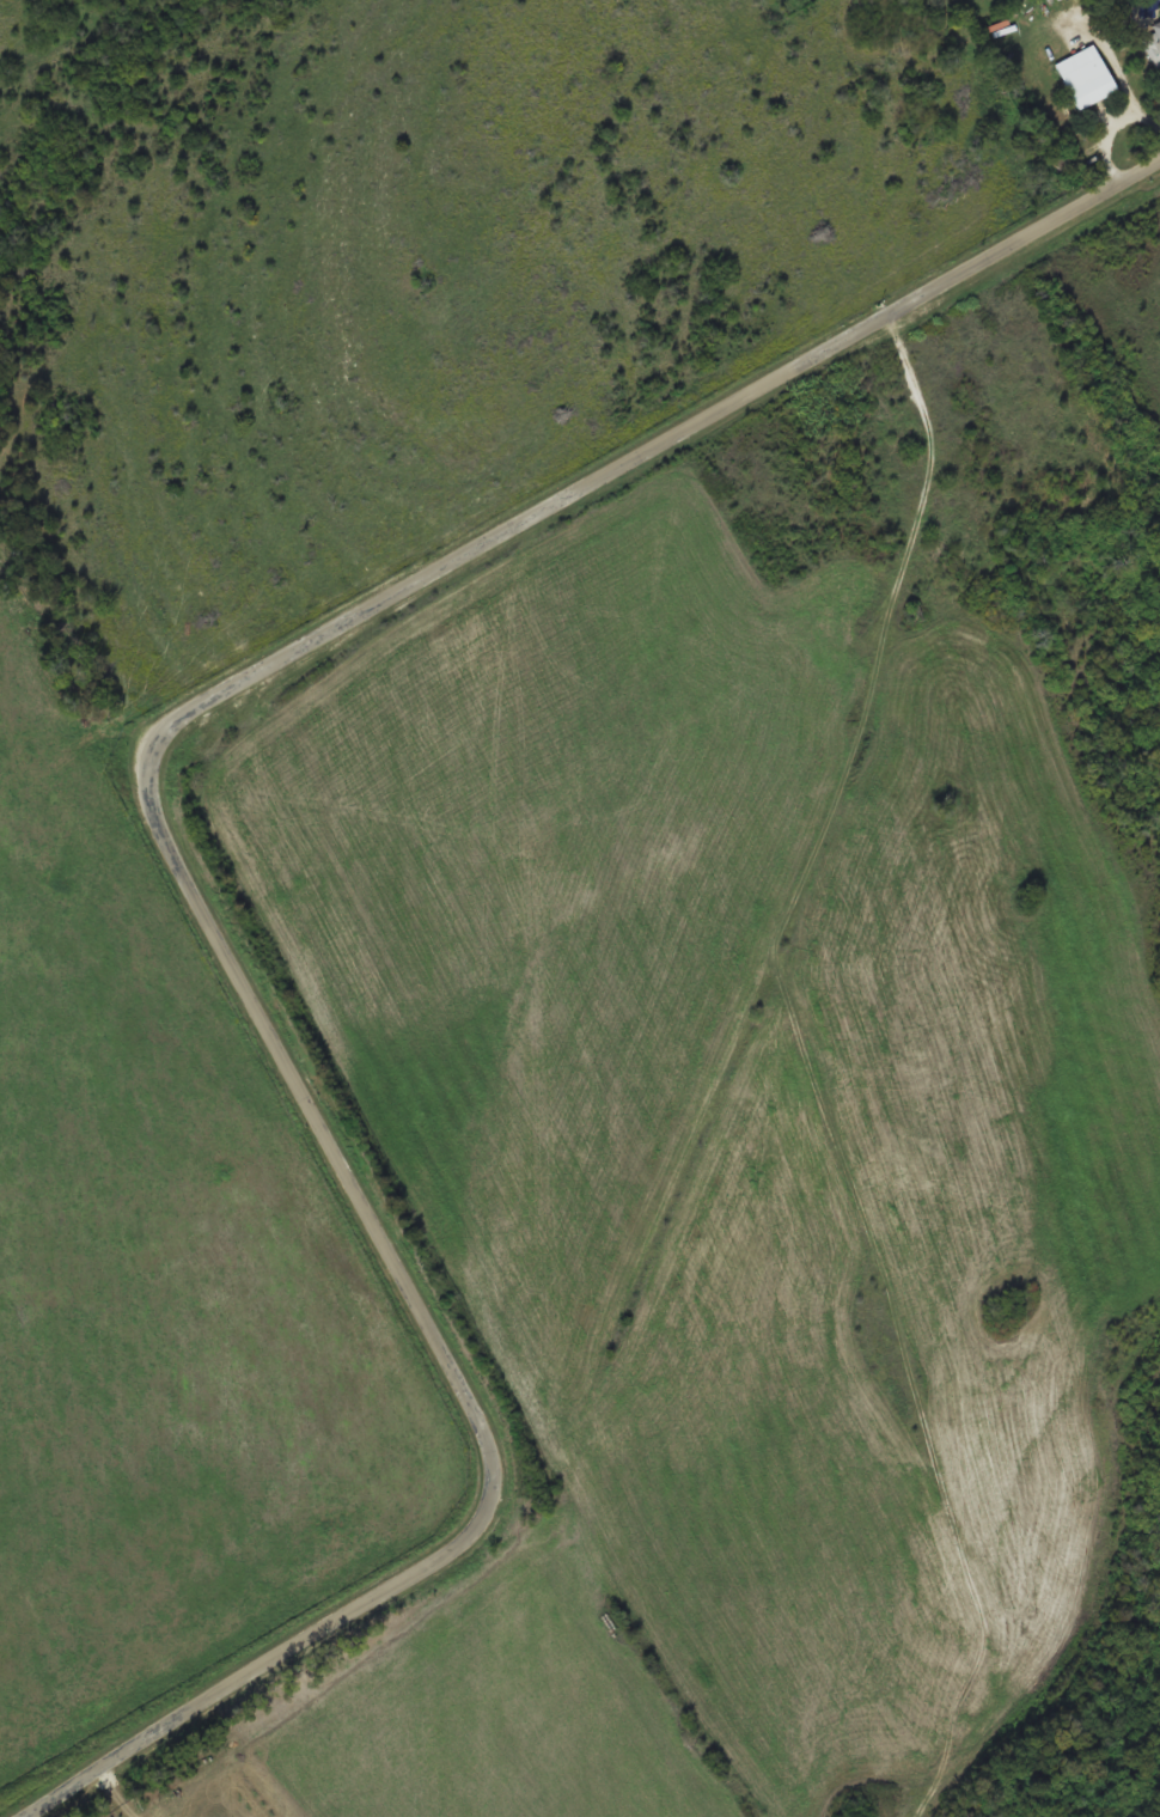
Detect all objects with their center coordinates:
building: (1153, 43)
building: (1086, 77)
road: (173, 859)

